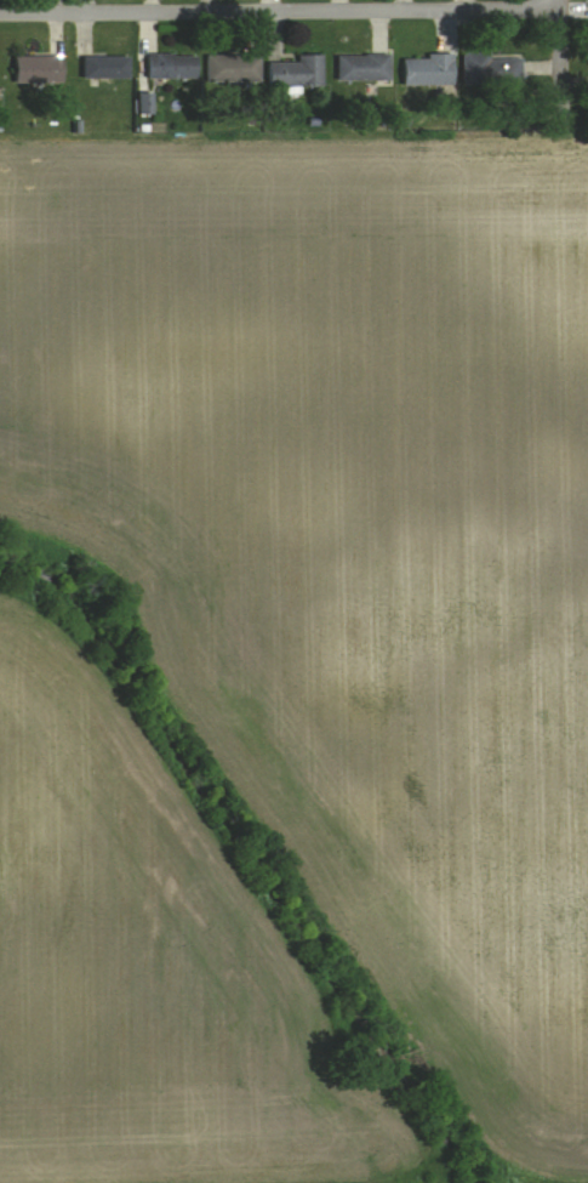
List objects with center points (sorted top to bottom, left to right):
road: (559, 5)
road: (279, 10)
road: (560, 59)
building: (105, 67)
building: (172, 67)
building: (362, 68)
building: (39, 69)
building: (233, 69)
building: (428, 70)
building: (491, 70)
building: (297, 73)

